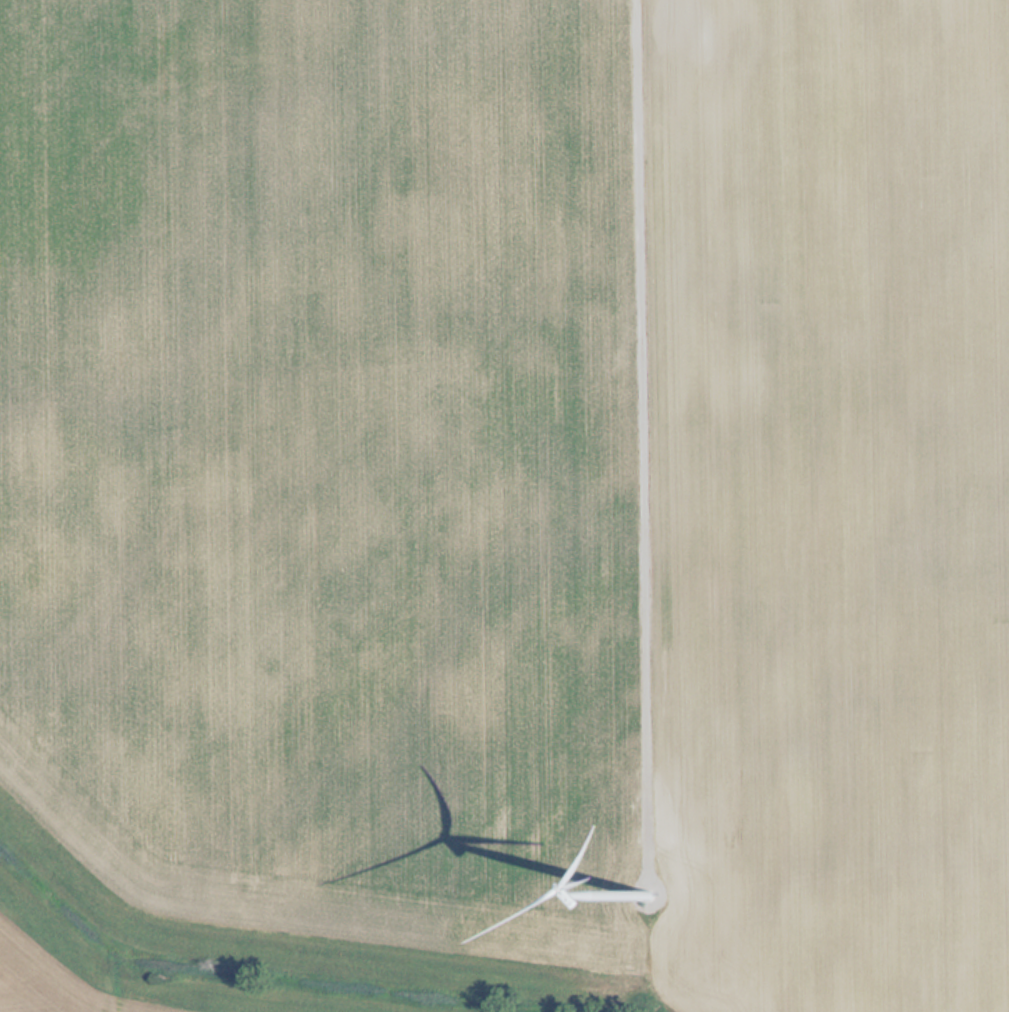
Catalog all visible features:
wind turbine: (647, 897)

